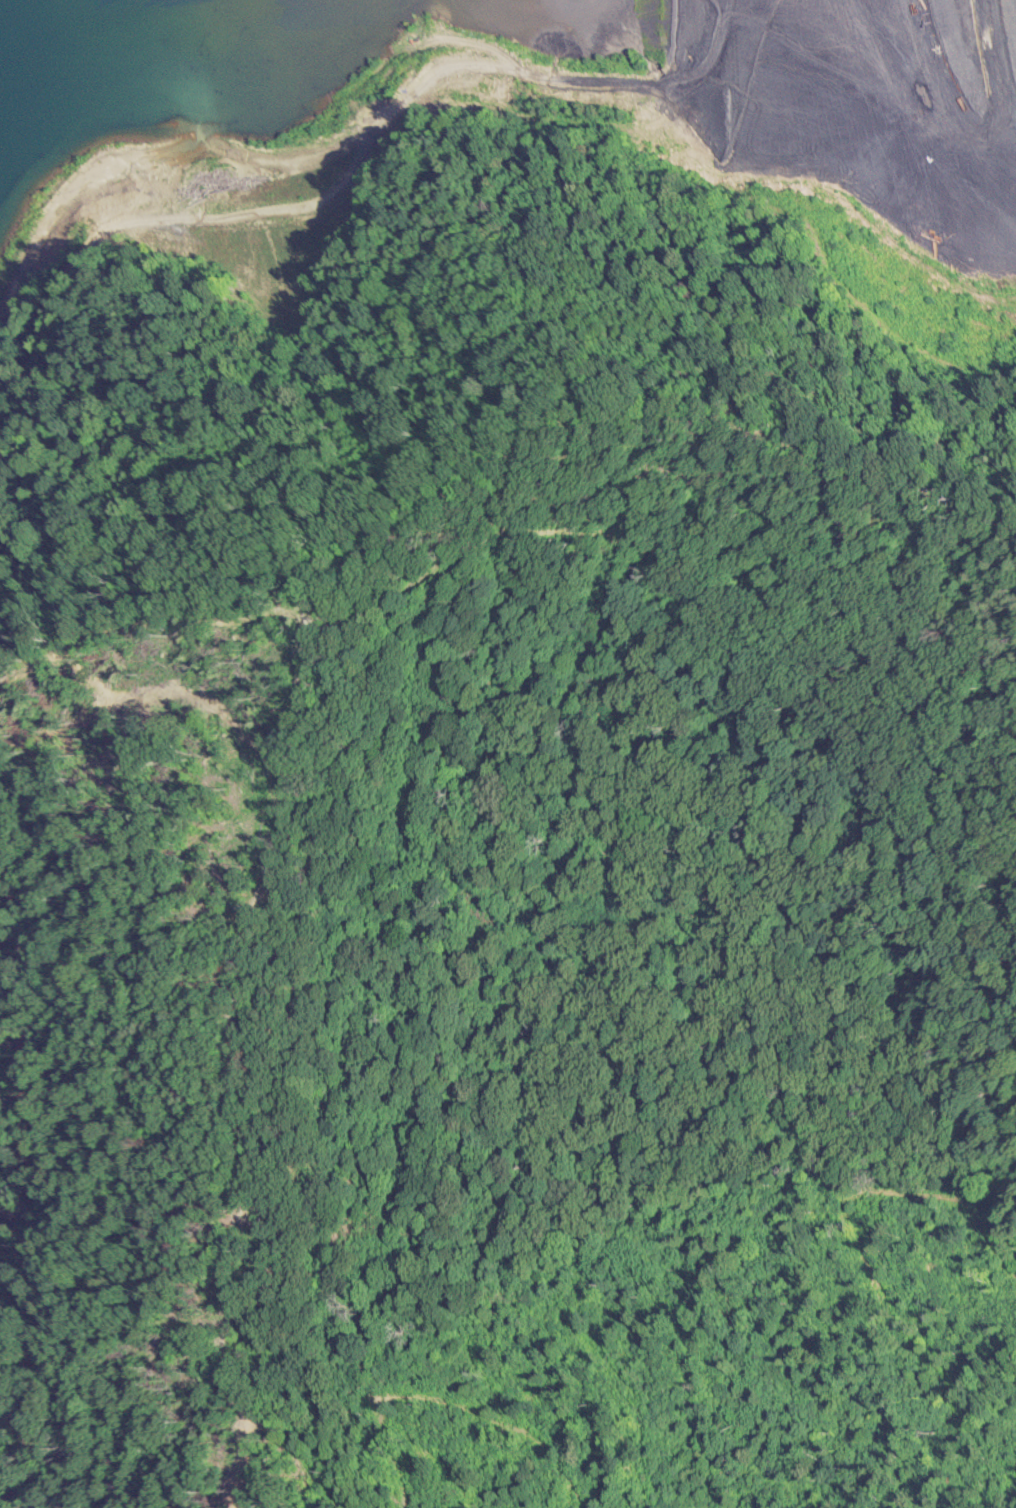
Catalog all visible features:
quarry: (825, 164)

